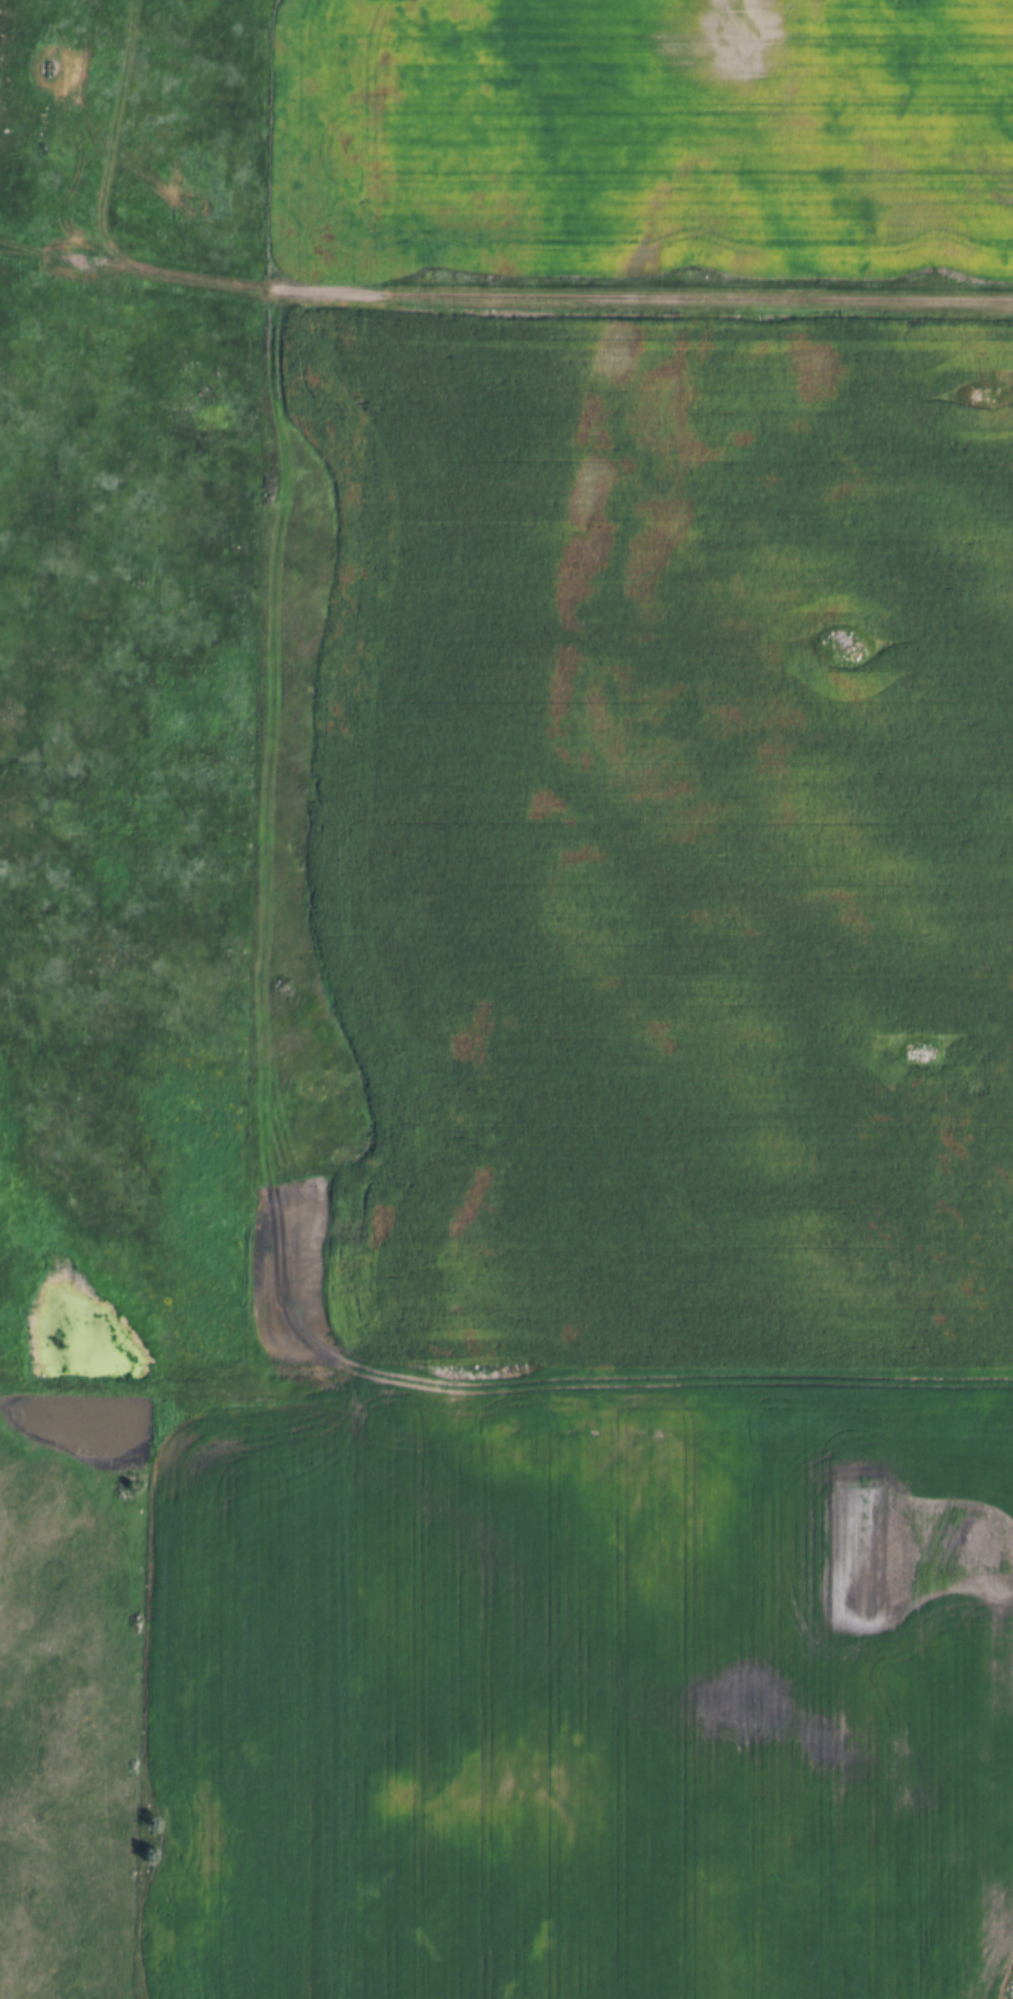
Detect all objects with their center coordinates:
road: (504, 295)

